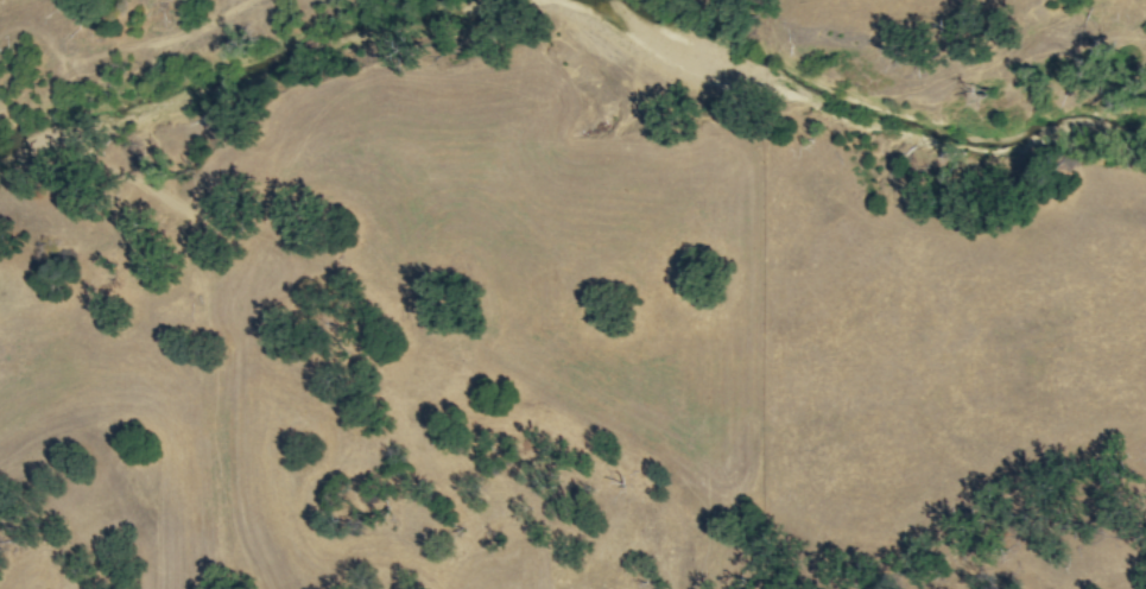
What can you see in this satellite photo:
river: (219, 80)
river: (882, 118)

